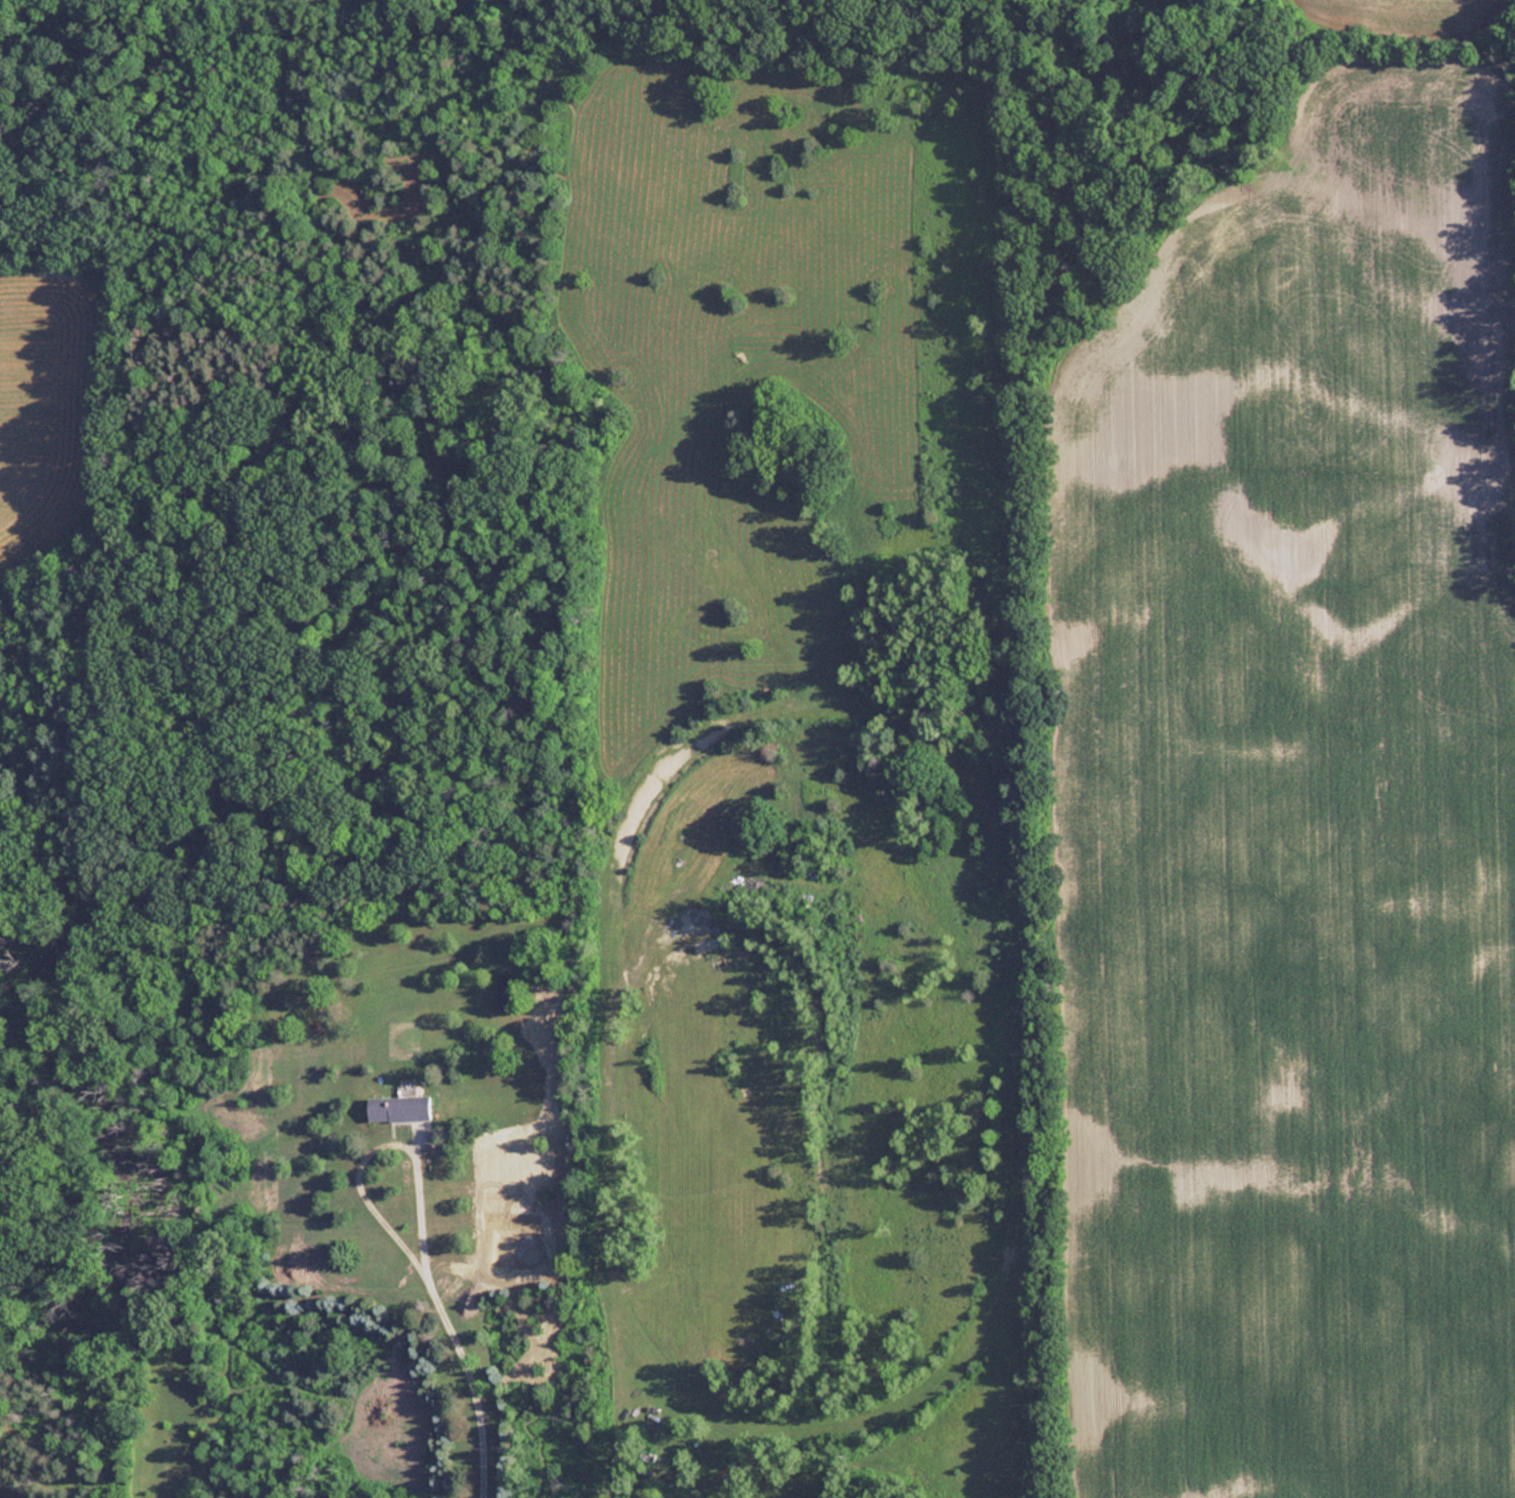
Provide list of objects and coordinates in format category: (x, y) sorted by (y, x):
building: (502, 995)
building: (398, 1107)
road: (445, 1339)

